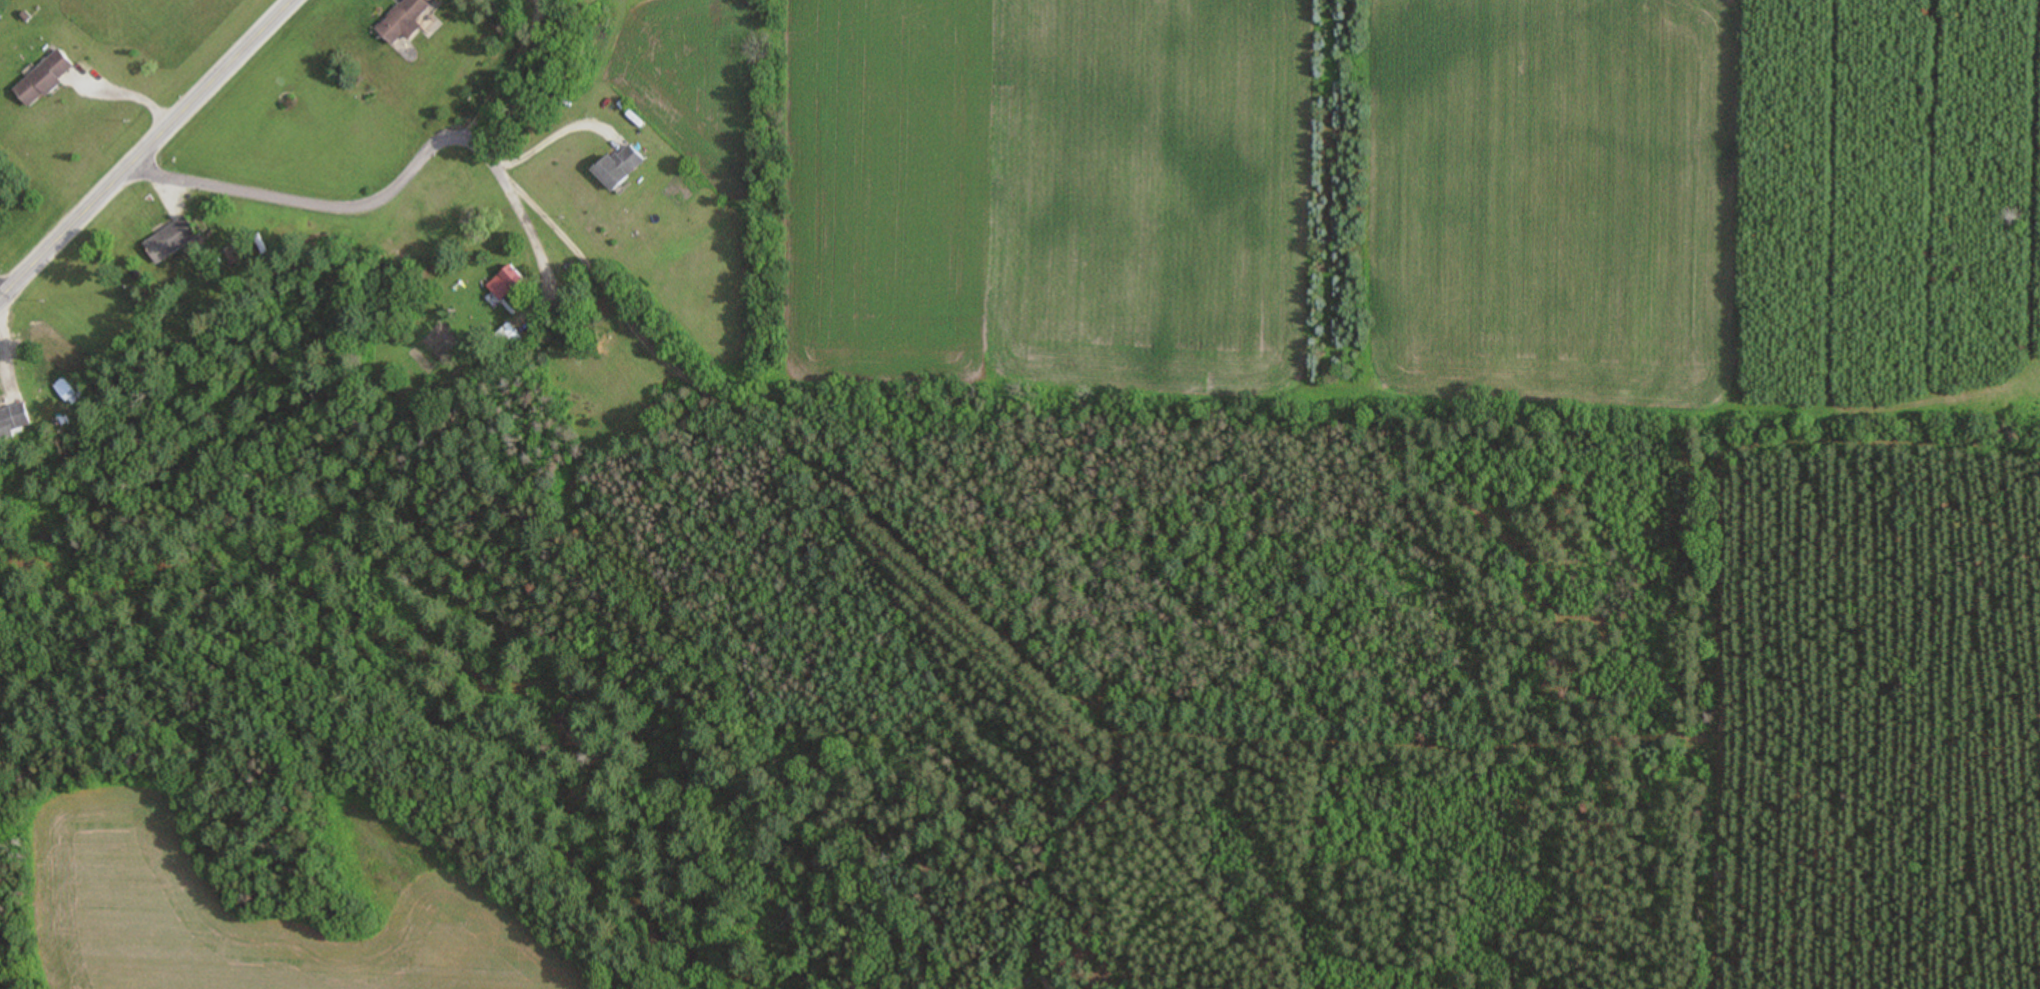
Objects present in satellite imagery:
building: (403, 21)
building: (43, 79)
road: (206, 85)
building: (617, 166)
road: (372, 205)
road: (60, 232)
building: (170, 242)
building: (505, 283)
building: (508, 340)
building: (13, 418)

